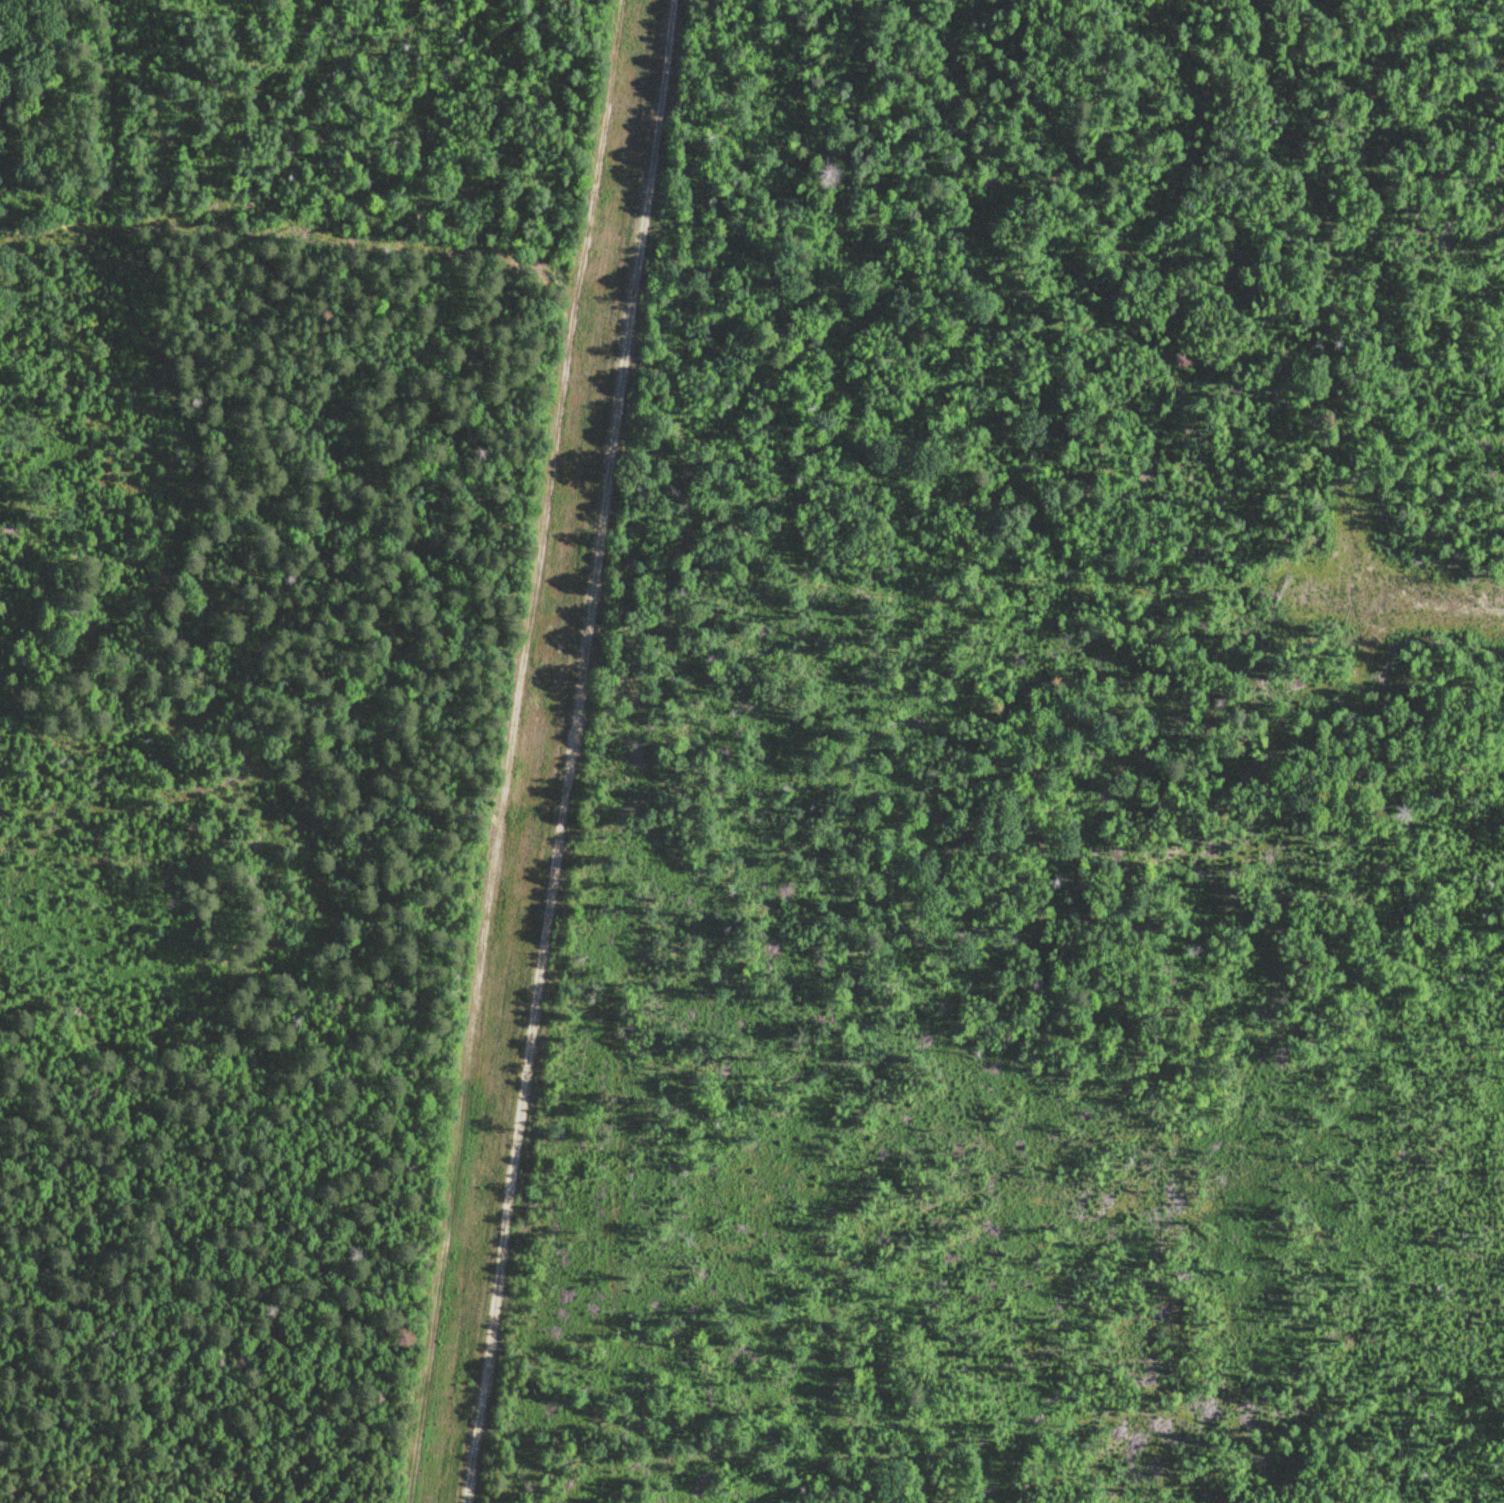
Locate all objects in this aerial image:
road: (574, 751)

